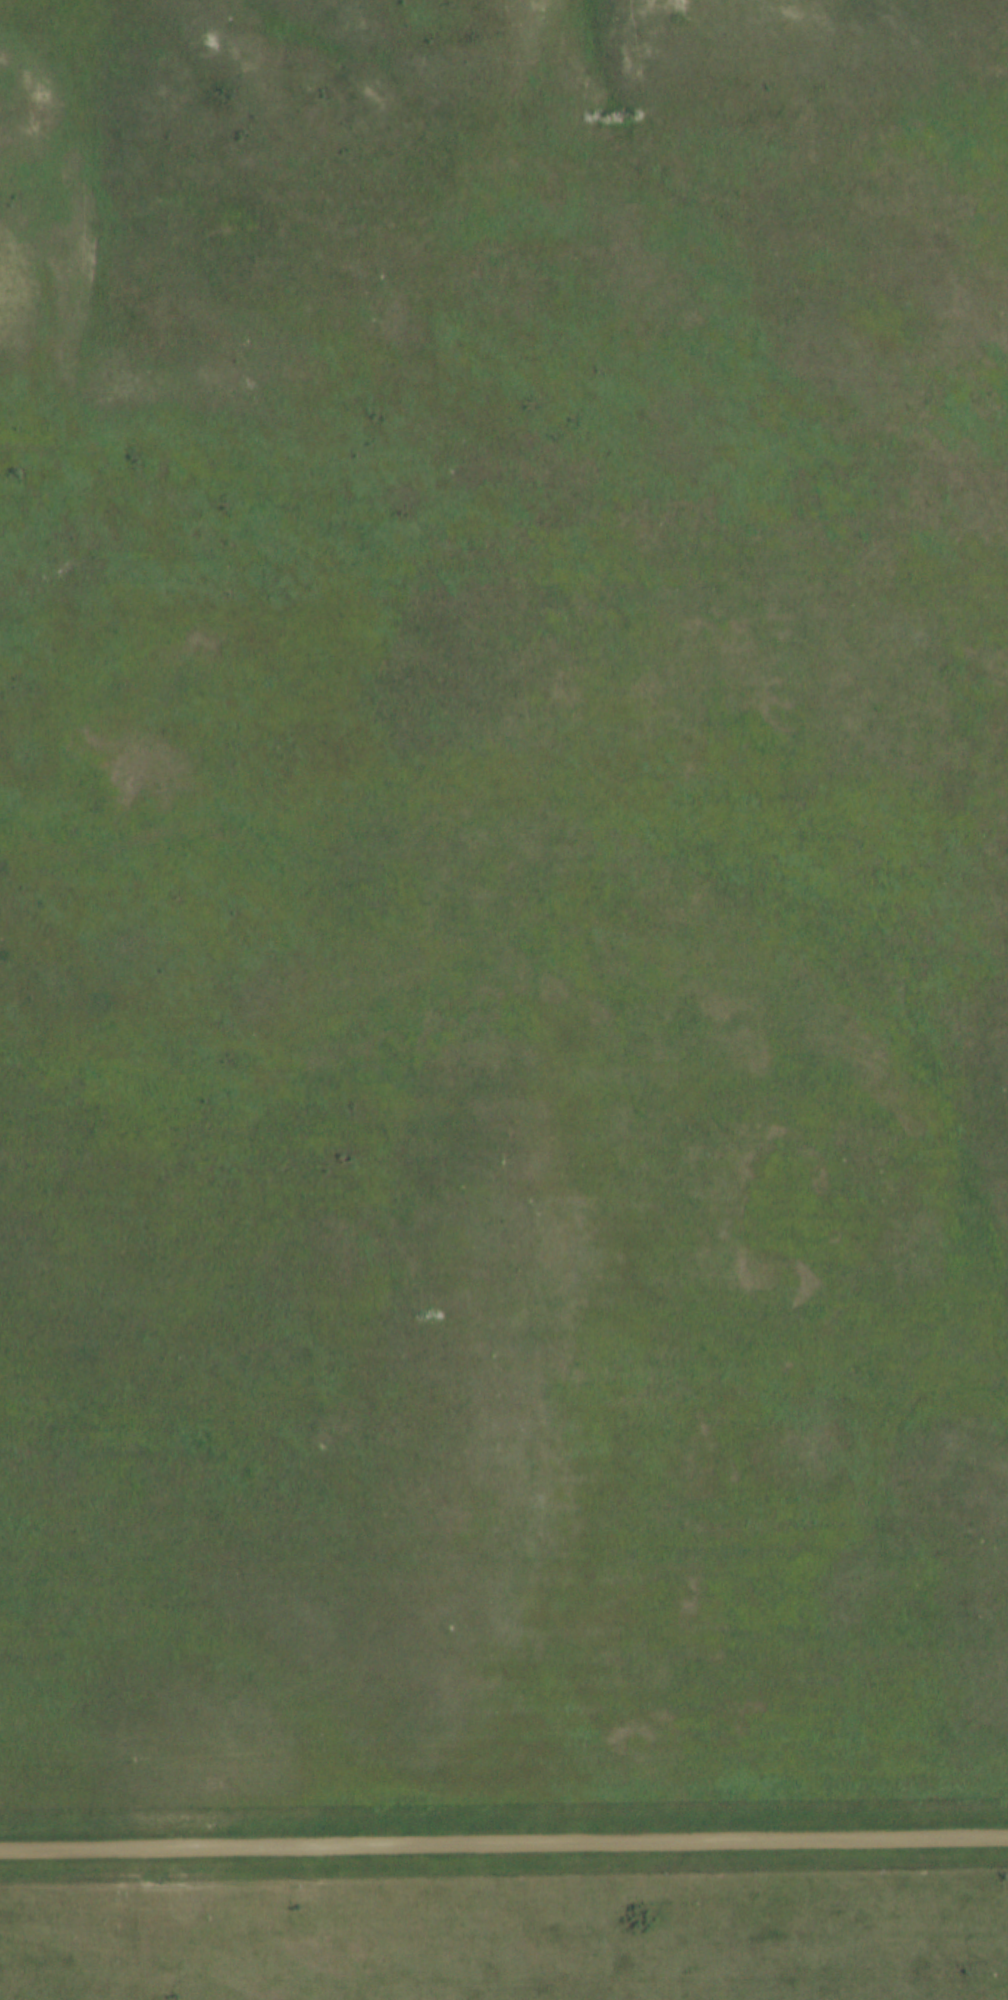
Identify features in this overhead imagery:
road: (504, 1849)

